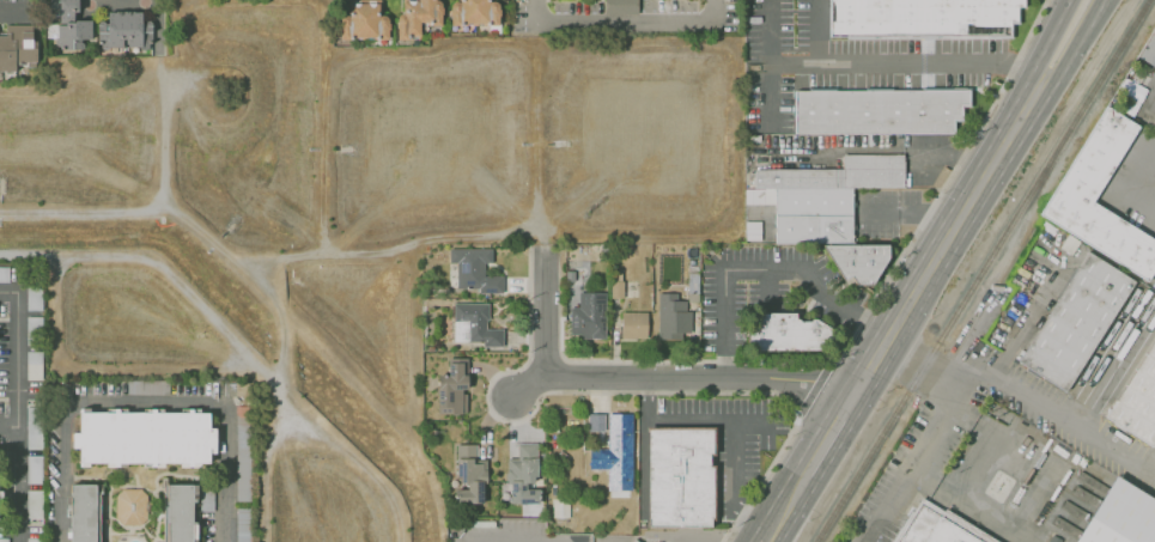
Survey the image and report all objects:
building: (619, 6)
building: (473, 12)
building: (415, 16)
building: (923, 17)
building: (365, 18)
road: (620, 22)
building: (68, 25)
building: (123, 30)
road: (768, 34)
building: (17, 48)
road: (1044, 49)
building: (1148, 49)
road: (1072, 55)
road: (877, 62)
building: (877, 109)
building: (1090, 163)
road: (950, 169)
building: (831, 206)
road: (917, 215)
building: (472, 269)
railway: (965, 269)
railway: (975, 270)
railway: (984, 270)
building: (4, 274)
road: (766, 287)
building: (615, 288)
road: (551, 312)
building: (588, 315)
building: (670, 317)
road: (899, 321)
building: (1075, 321)
building: (474, 324)
building: (633, 324)
building: (785, 327)
road: (692, 360)
road: (705, 383)
building: (146, 386)
road: (814, 386)
building: (451, 388)
road: (533, 389)
road: (1026, 397)
building: (1137, 400)
road: (147, 401)
road: (17, 408)
road: (734, 422)
road: (8, 426)
building: (142, 437)
building: (242, 452)
building: (612, 467)
building: (34, 469)
road: (57, 471)
road: (229, 474)
building: (681, 474)
building: (523, 475)
building: (468, 476)
road: (760, 479)
building: (34, 505)
building: (130, 506)
building: (83, 512)
building: (178, 512)
building: (1119, 516)
building: (239, 524)
building: (943, 526)
road: (516, 538)

